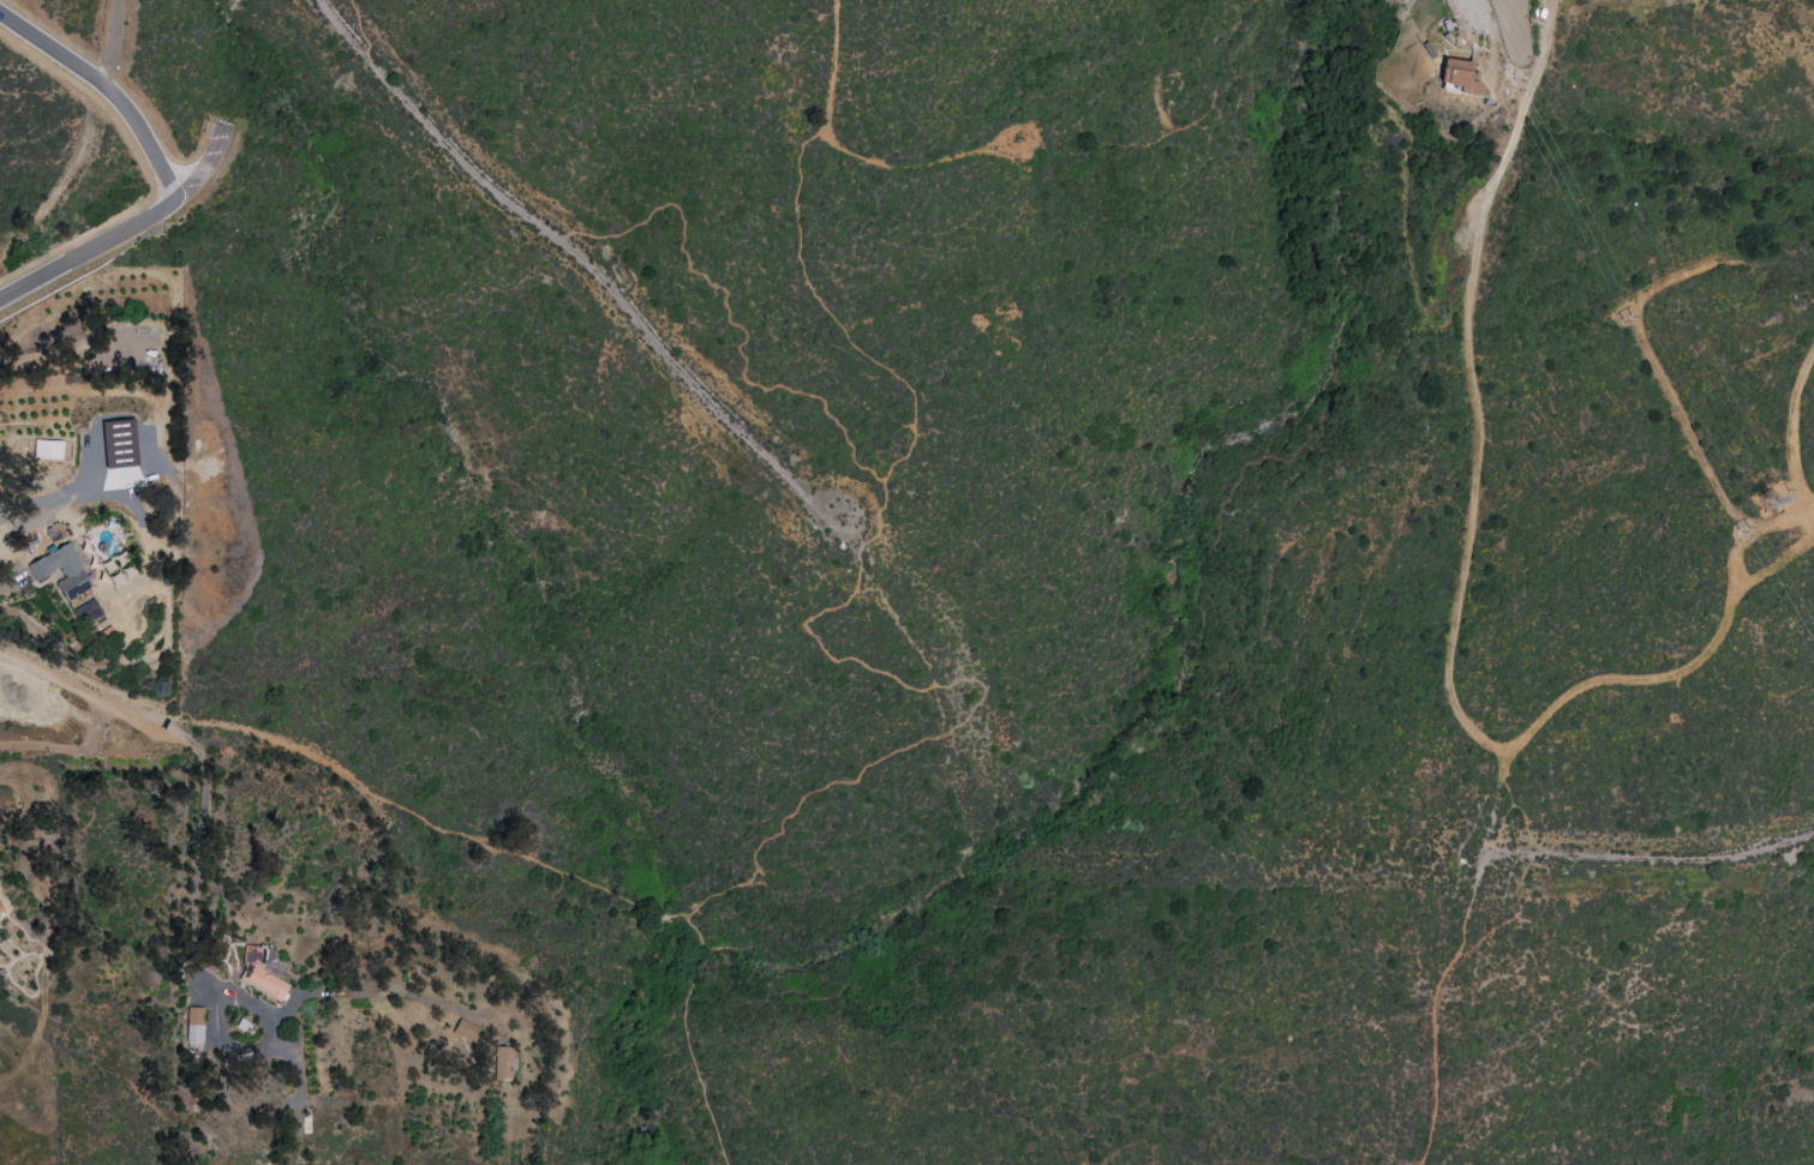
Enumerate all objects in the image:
power tower: (1457, 13)
road: (359, 29)
road: (115, 46)
building: (1459, 77)
road: (106, 92)
road: (1007, 150)
road: (64, 180)
road: (90, 251)
road: (579, 257)
power tower: (1622, 314)
road: (850, 341)
road: (741, 343)
road: (1670, 389)
building: (119, 444)
building: (47, 450)
power tower: (1766, 503)
power tower: (1744, 538)
building: (61, 570)
road: (1453, 671)
road: (85, 689)
road: (960, 722)
road: (1509, 803)
road: (1487, 852)
road: (543, 869)
road: (198, 870)
building: (1, 911)
building: (261, 973)
building: (193, 1028)
building: (465, 1031)
building: (502, 1064)

